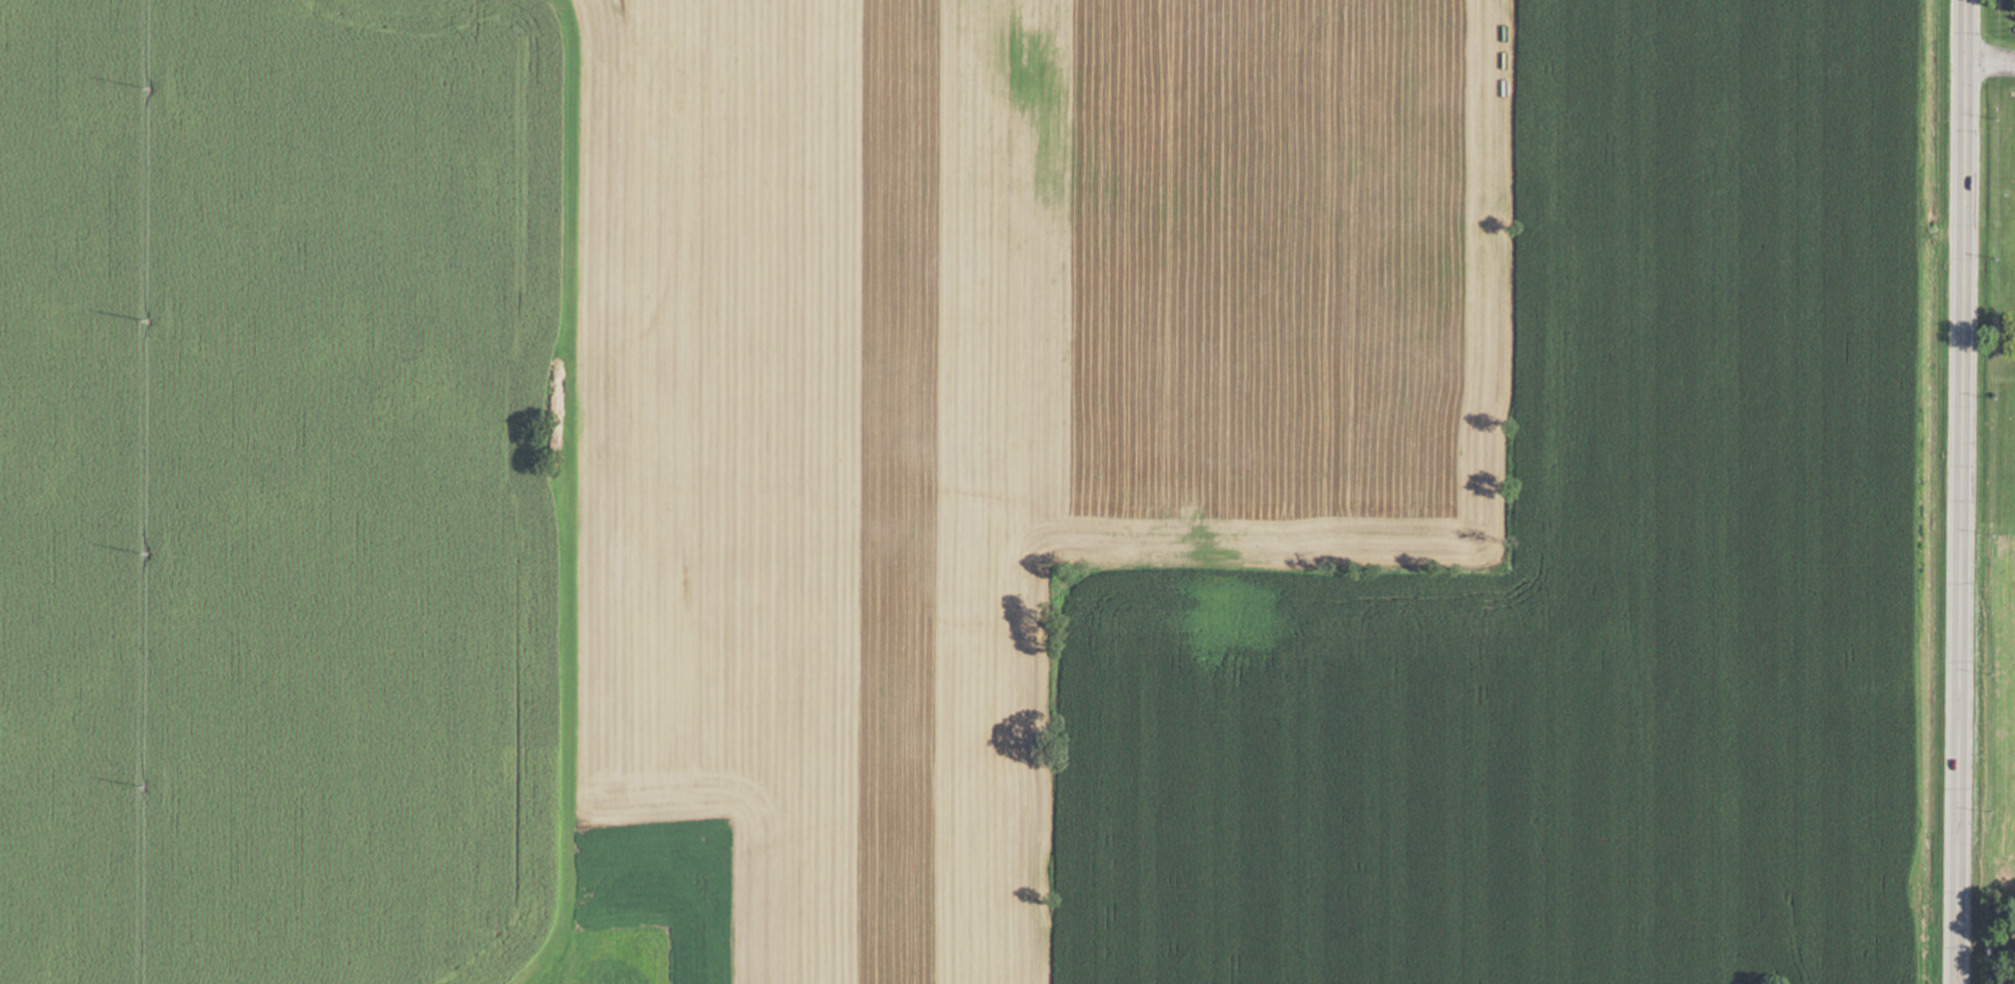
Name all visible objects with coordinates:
road: (1990, 52)
road: (1959, 491)

